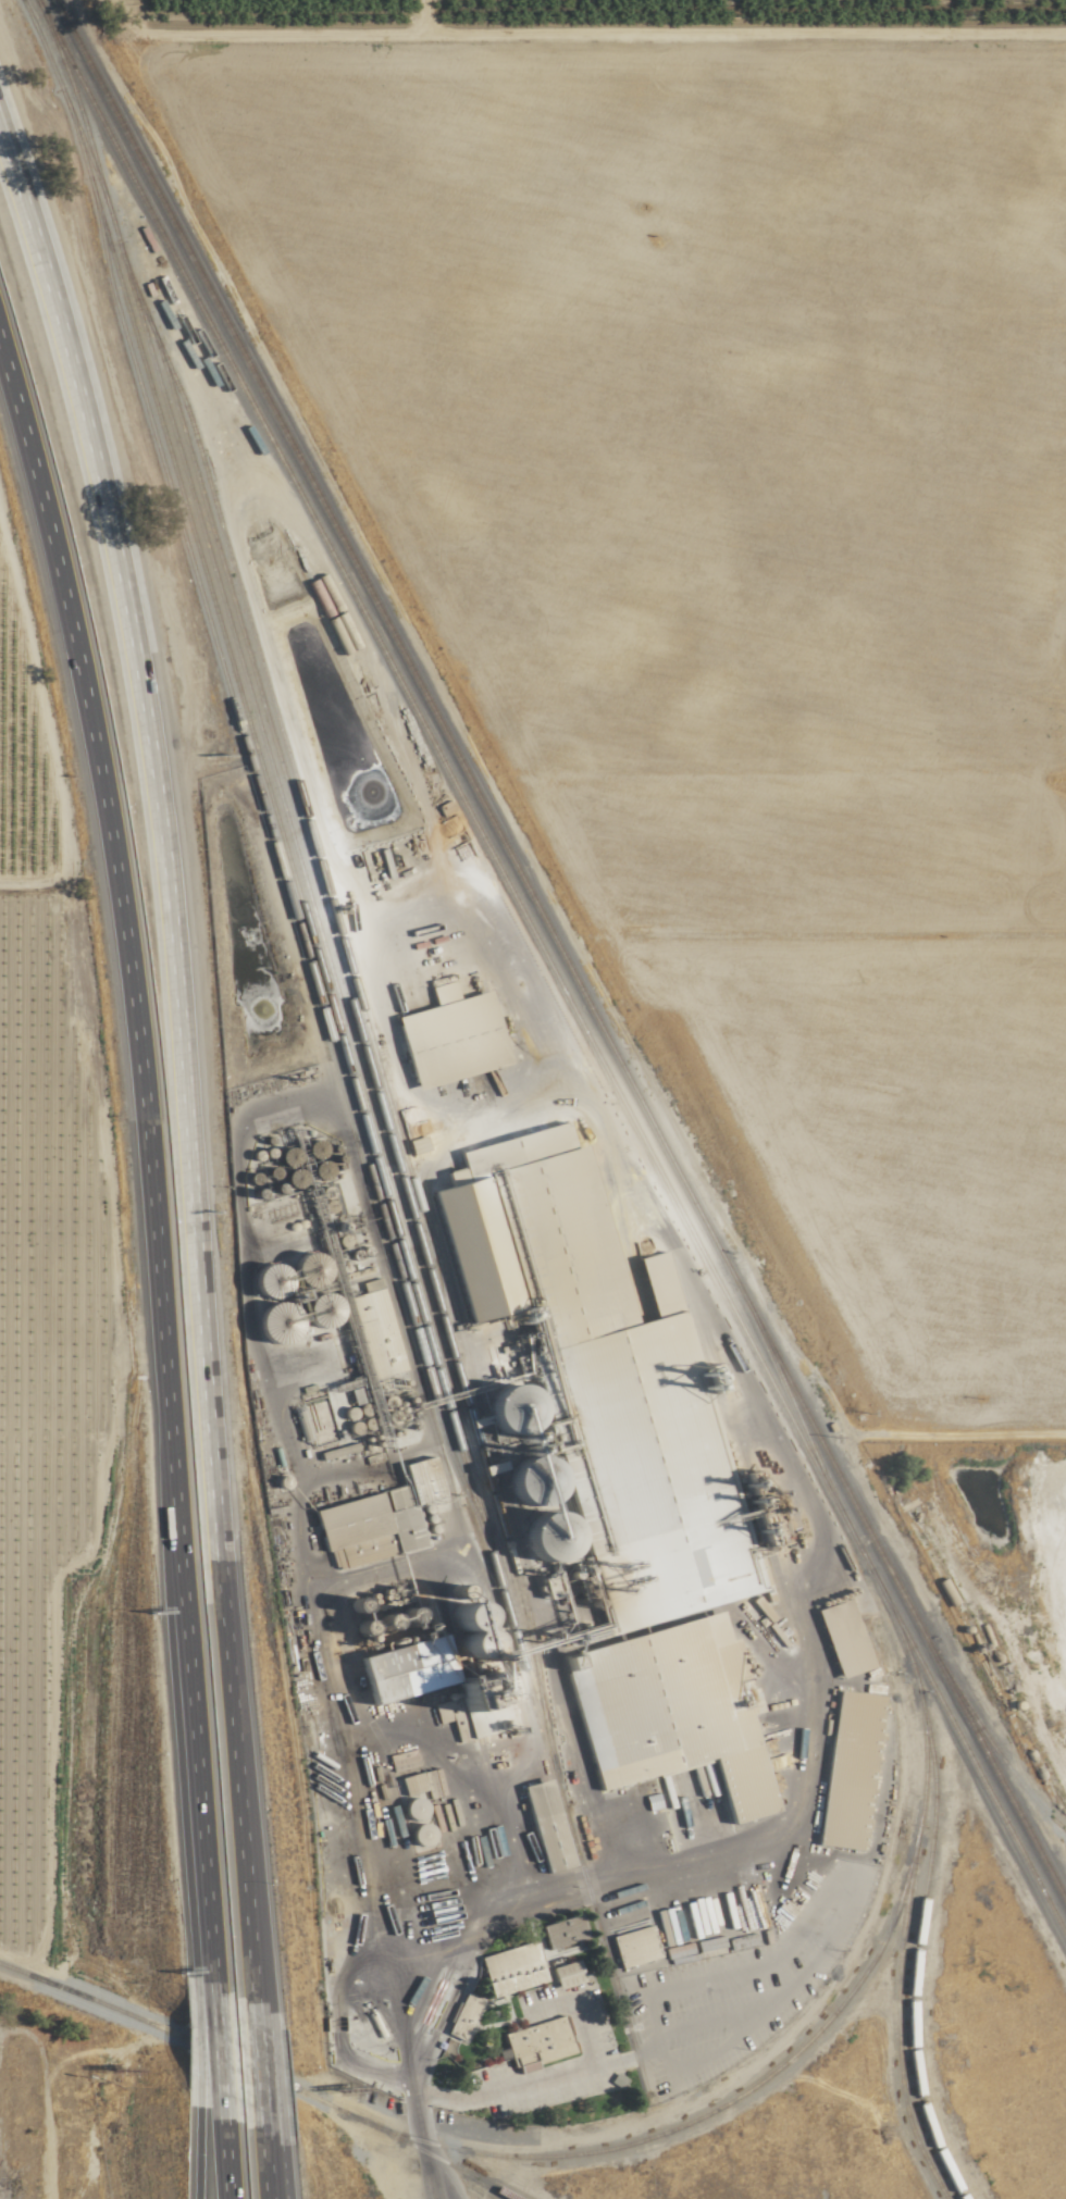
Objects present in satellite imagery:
railway: (85, 154)
railway: (305, 834)
road: (159, 835)
railway: (274, 856)
railway: (297, 878)
railway: (559, 952)
railway: (549, 967)
railway: (337, 985)
building: (447, 1033)
railway: (337, 1042)
road: (141, 1163)
building: (451, 1253)
building: (466, 1315)
building: (375, 1332)
crop: (66, 1425)
building: (372, 1507)
building: (832, 1623)
building: (482, 1701)
building: (694, 1731)
railway: (992, 1745)
building: (844, 1771)
road: (235, 1773)
building: (408, 1784)
building: (542, 1826)
road: (584, 1887)
building: (560, 1930)
railway: (916, 1941)
building: (631, 1945)
building: (508, 1967)
building: (562, 1973)
building: (459, 2016)
railway: (897, 2017)
railway: (815, 2033)
road: (197, 2039)
building: (534, 2040)
road: (207, 2045)
road: (256, 2066)
road: (264, 2071)
railway: (259, 2073)
road: (498, 2089)
road: (190, 2153)
road: (214, 2159)
road: (262, 2166)
road: (280, 2171)
road: (432, 2175)

